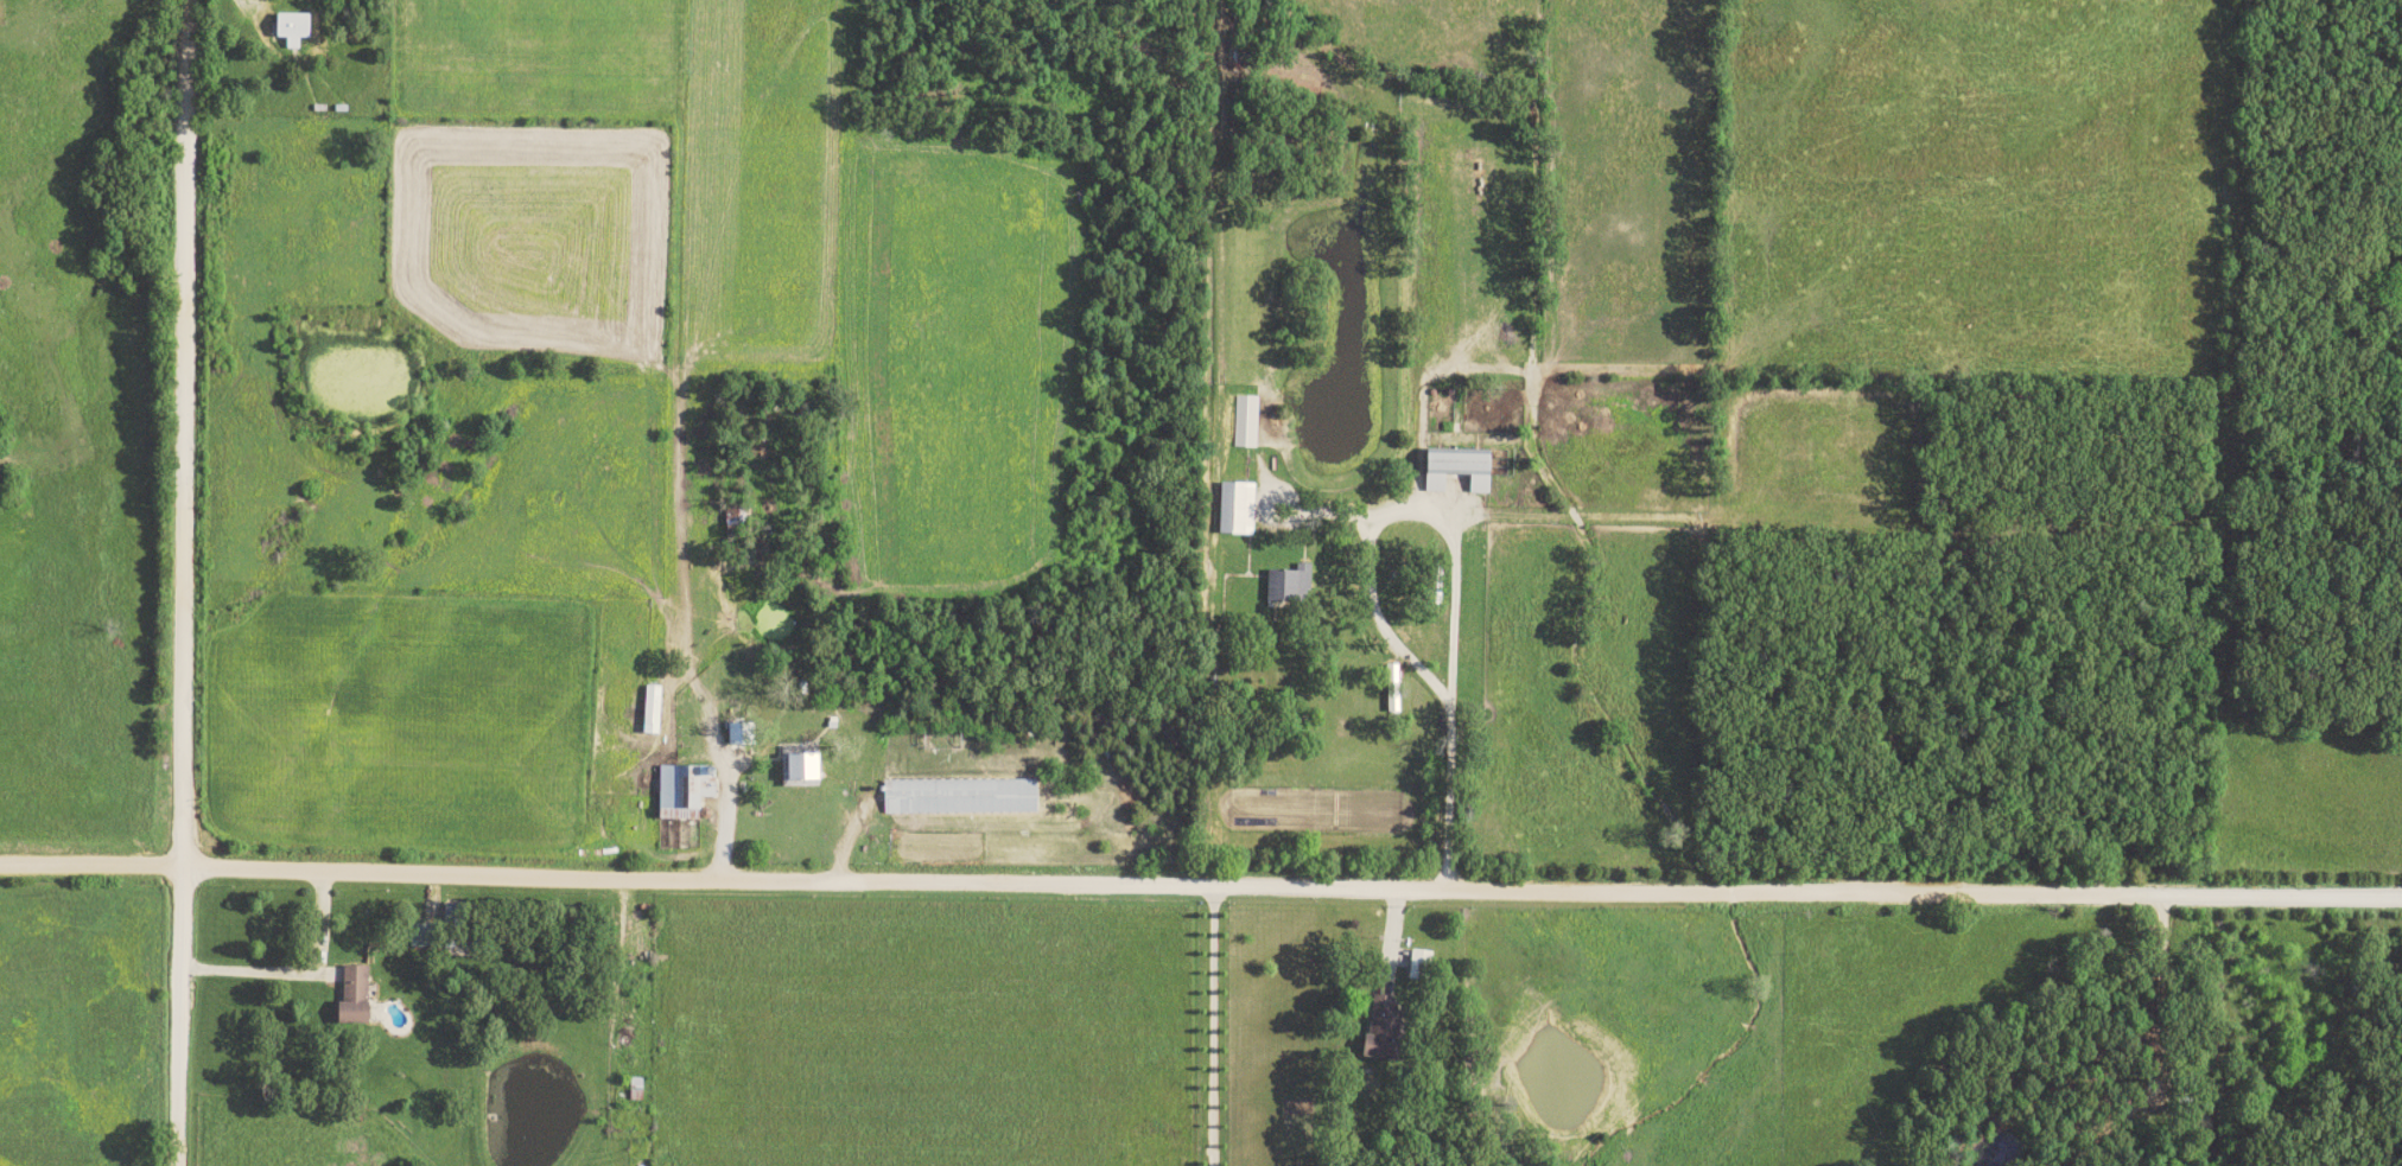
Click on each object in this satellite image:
building: (290, 27)
building: (1245, 421)
building: (1454, 469)
building: (1235, 508)
road: (172, 582)
building: (1286, 584)
road: (1375, 629)
building: (1391, 702)
building: (650, 709)
building: (798, 764)
building: (682, 790)
road: (1440, 791)
building: (955, 798)
road: (716, 816)
road: (1200, 885)
road: (1384, 939)
building: (1416, 964)
road: (291, 970)
road: (606, 979)
building: (350, 996)
road: (1213, 1025)
building: (1378, 1028)
road: (2159, 1055)

